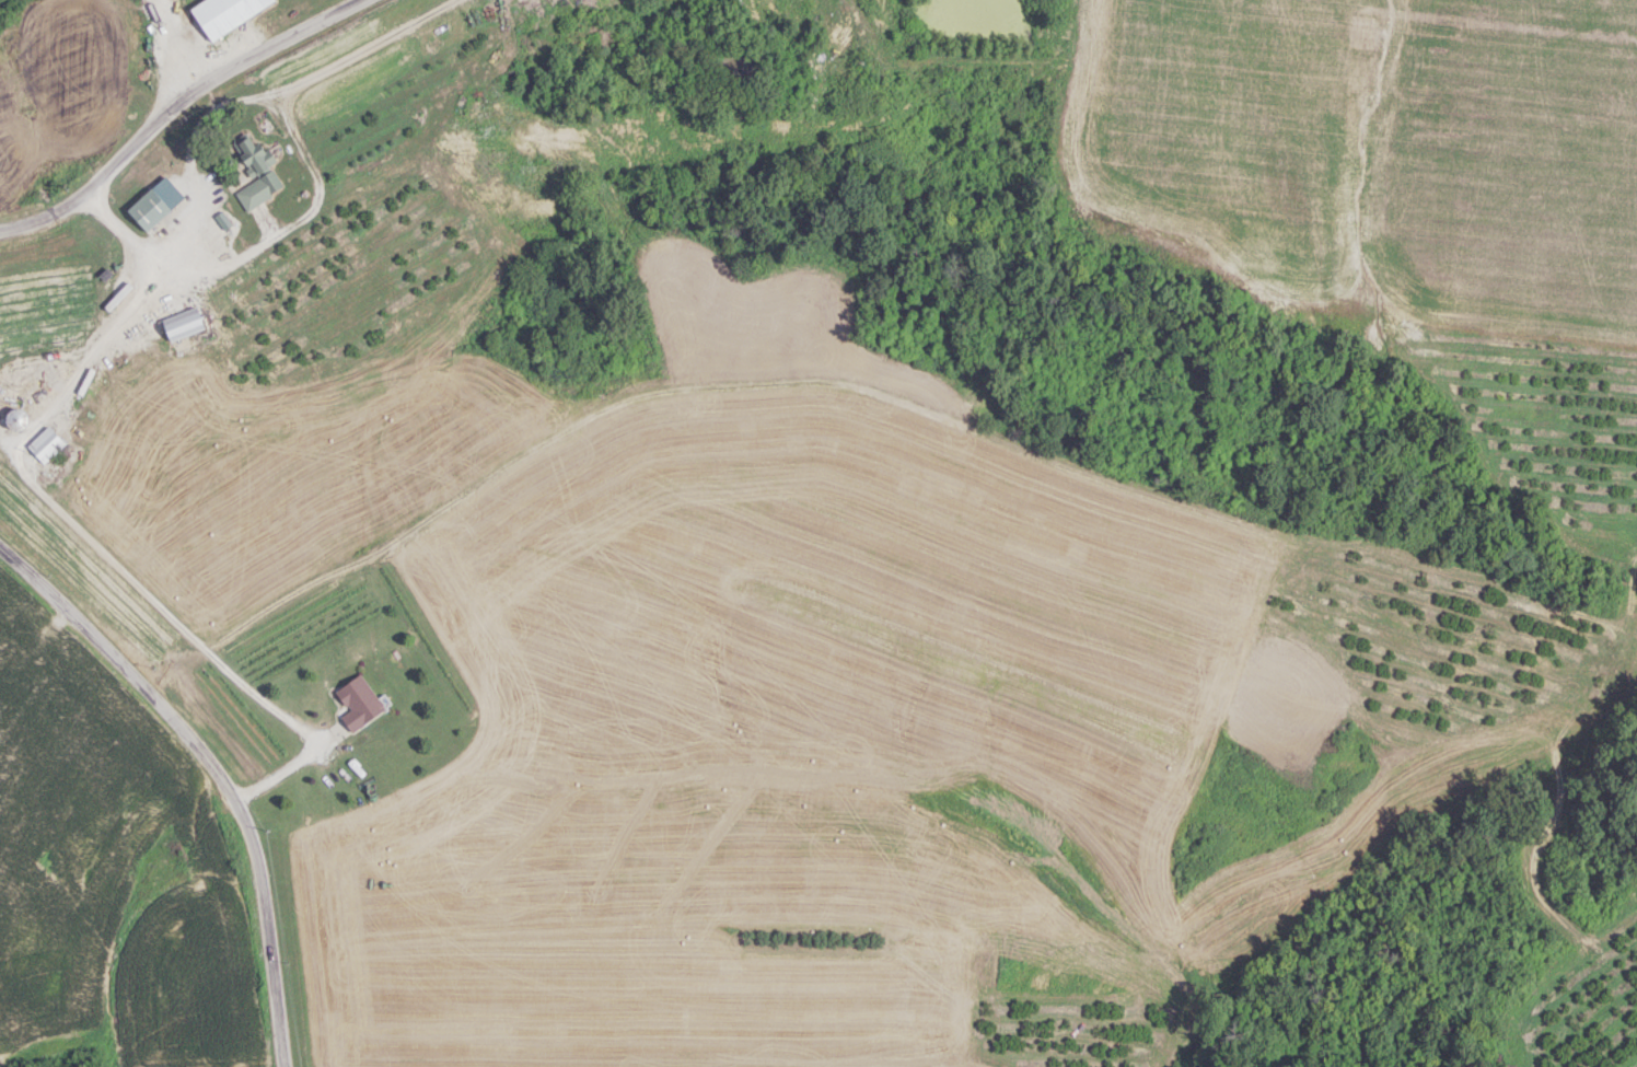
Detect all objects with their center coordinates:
building: (227, 13)
road: (353, 50)
road: (171, 105)
road: (293, 135)
building: (256, 170)
building: (150, 208)
building: (186, 322)
building: (18, 418)
crop: (1547, 421)
building: (47, 443)
road: (71, 520)
building: (360, 701)
road: (217, 765)
crop: (113, 880)

